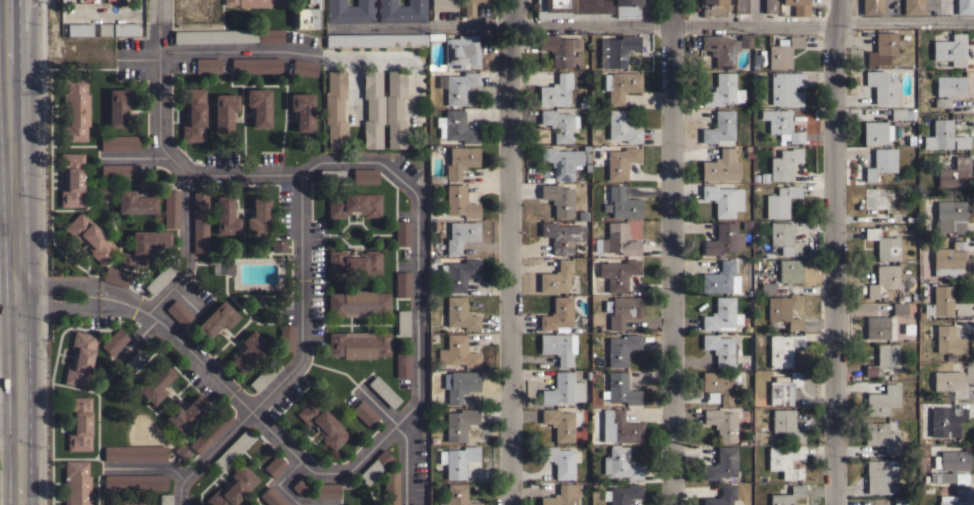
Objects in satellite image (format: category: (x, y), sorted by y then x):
building: (254, 2)
building: (444, 5)
building: (472, 6)
building: (593, 6)
building: (740, 6)
building: (769, 6)
building: (797, 6)
building: (627, 7)
building: (714, 7)
building: (871, 7)
building: (913, 7)
building: (965, 7)
building: (553, 8)
road: (104, 11)
building: (349, 11)
building: (400, 11)
building: (307, 15)
road: (653, 24)
building: (79, 29)
building: (104, 29)
building: (125, 29)
building: (215, 36)
building: (270, 36)
building: (376, 39)
building: (744, 40)
building: (882, 48)
building: (720, 49)
building: (950, 49)
road: (281, 50)
building: (561, 50)
building: (616, 50)
building: (461, 51)
building: (783, 52)
road: (138, 55)
building: (207, 65)
building: (255, 65)
building: (304, 67)
building: (621, 85)
building: (459, 87)
building: (881, 87)
building: (786, 88)
building: (948, 89)
building: (722, 90)
building: (556, 91)
building: (118, 106)
building: (259, 106)
building: (372, 108)
building: (335, 109)
building: (395, 109)
building: (75, 110)
building: (302, 110)
building: (225, 111)
building: (897, 113)
building: (193, 114)
building: (559, 124)
building: (781, 125)
building: (455, 127)
building: (622, 127)
building: (719, 129)
building: (876, 132)
building: (946, 135)
building: (119, 143)
building: (460, 160)
building: (562, 160)
building: (621, 162)
building: (881, 163)
road: (173, 164)
building: (784, 164)
building: (721, 166)
building: (119, 171)
building: (954, 173)
building: (364, 176)
building: (71, 179)
building: (102, 193)
building: (875, 198)
building: (558, 199)
building: (723, 199)
building: (459, 201)
building: (780, 201)
building: (135, 202)
building: (622, 203)
building: (354, 204)
building: (171, 208)
building: (948, 214)
building: (258, 215)
building: (225, 216)
building: (898, 217)
building: (200, 221)
building: (751, 224)
building: (958, 227)
building: (402, 233)
building: (461, 235)
building: (562, 236)
building: (91, 237)
building: (785, 238)
building: (619, 240)
building: (723, 240)
building: (278, 245)
building: (884, 245)
building: (144, 246)
road: (414, 247)
road: (18, 252)
road: (515, 252)
road: (672, 252)
road: (834, 252)
building: (948, 260)
building: (353, 262)
building: (790, 270)
building: (458, 273)
building: (618, 273)
building: (115, 276)
building: (160, 278)
building: (556, 278)
building: (718, 278)
building: (883, 280)
road: (60, 284)
building: (402, 284)
building: (767, 288)
building: (945, 302)
building: (358, 303)
road: (60, 305)
building: (899, 308)
building: (622, 310)
building: (179, 312)
building: (459, 313)
building: (781, 313)
building: (558, 314)
building: (721, 316)
building: (216, 319)
road: (10, 321)
building: (402, 322)
building: (877, 327)
building: (285, 337)
building: (949, 340)
building: (114, 341)
building: (359, 344)
building: (559, 347)
building: (621, 349)
building: (721, 349)
building: (783, 349)
building: (249, 351)
building: (457, 352)
building: (883, 358)
building: (80, 359)
building: (134, 361)
road: (297, 363)
building: (402, 364)
road: (210, 374)
building: (264, 375)
building: (950, 382)
building: (155, 383)
building: (460, 384)
building: (720, 386)
building: (621, 388)
building: (783, 388)
building: (563, 389)
building: (383, 392)
building: (882, 400)
building: (364, 413)
building: (186, 414)
building: (946, 420)
road: (11, 423)
building: (78, 423)
building: (322, 423)
building: (459, 423)
building: (561, 423)
building: (721, 424)
building: (786, 424)
building: (619, 427)
building: (210, 432)
road: (401, 436)
building: (881, 436)
building: (232, 449)
building: (182, 451)
building: (135, 453)
building: (457, 460)
building: (785, 460)
building: (559, 461)
building: (620, 463)
building: (722, 463)
building: (376, 465)
building: (274, 466)
building: (951, 467)
road: (144, 469)
building: (881, 476)
building: (135, 481)
road: (280, 482)
building: (76, 483)
building: (300, 486)
building: (232, 487)
building: (390, 488)
building: (327, 490)
building: (458, 494)
building: (622, 494)
building: (563, 495)
building: (721, 496)
building: (787, 496)
building: (272, 497)
building: (956, 498)
building: (165, 499)
building: (900, 501)
building: (132, 502)

